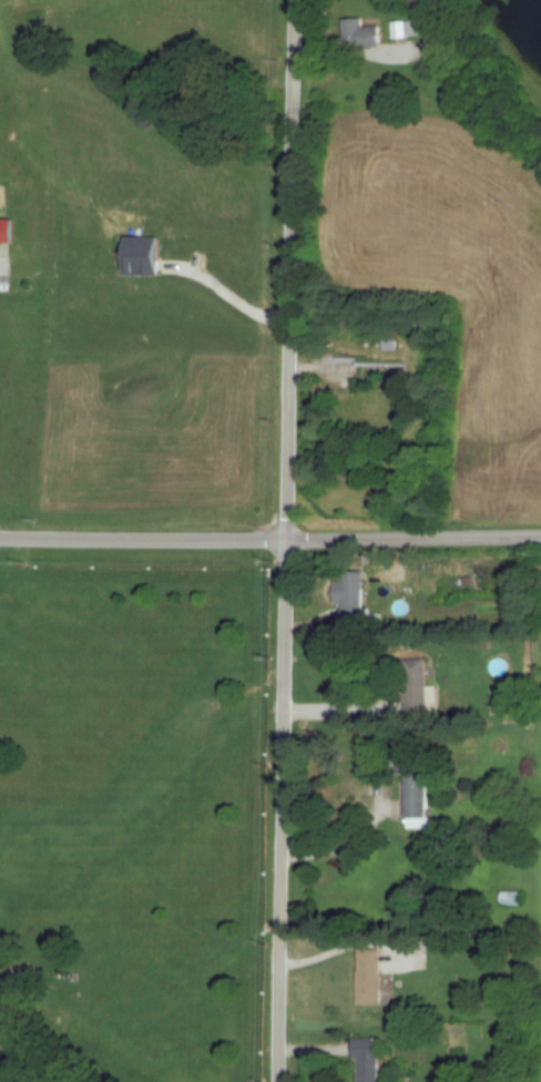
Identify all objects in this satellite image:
building: (408, 29)
building: (369, 33)
building: (450, 48)
building: (9, 229)
building: (149, 255)
road: (234, 296)
road: (270, 539)
road: (285, 540)
building: (358, 596)
building: (419, 684)
building: (512, 701)
building: (499, 702)
road: (338, 710)
building: (423, 795)
road: (344, 844)
building: (516, 898)
building: (374, 976)
road: (38, 1059)
building: (374, 1060)

